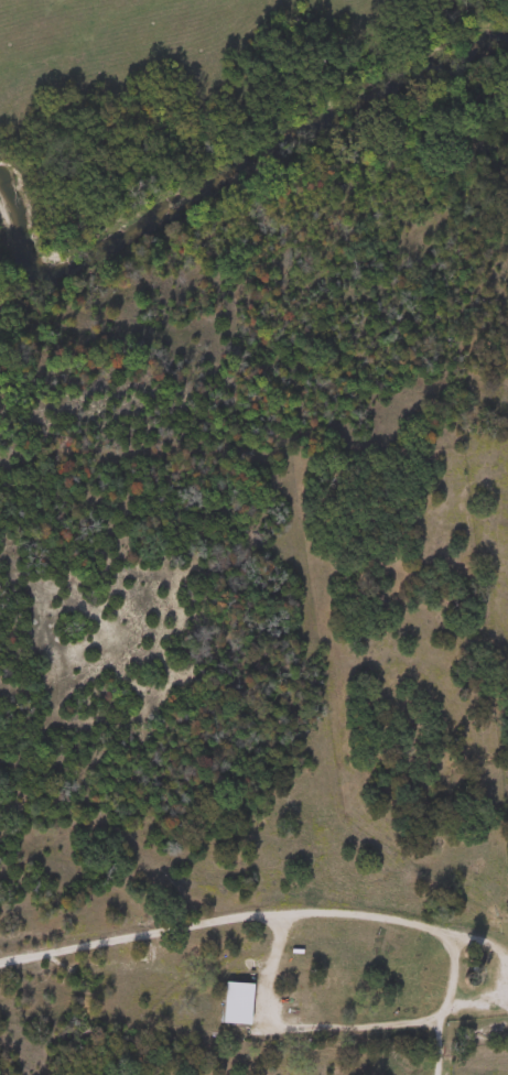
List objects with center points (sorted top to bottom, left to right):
river: (237, 155)
road: (332, 911)
building: (225, 1001)
road: (335, 1024)

